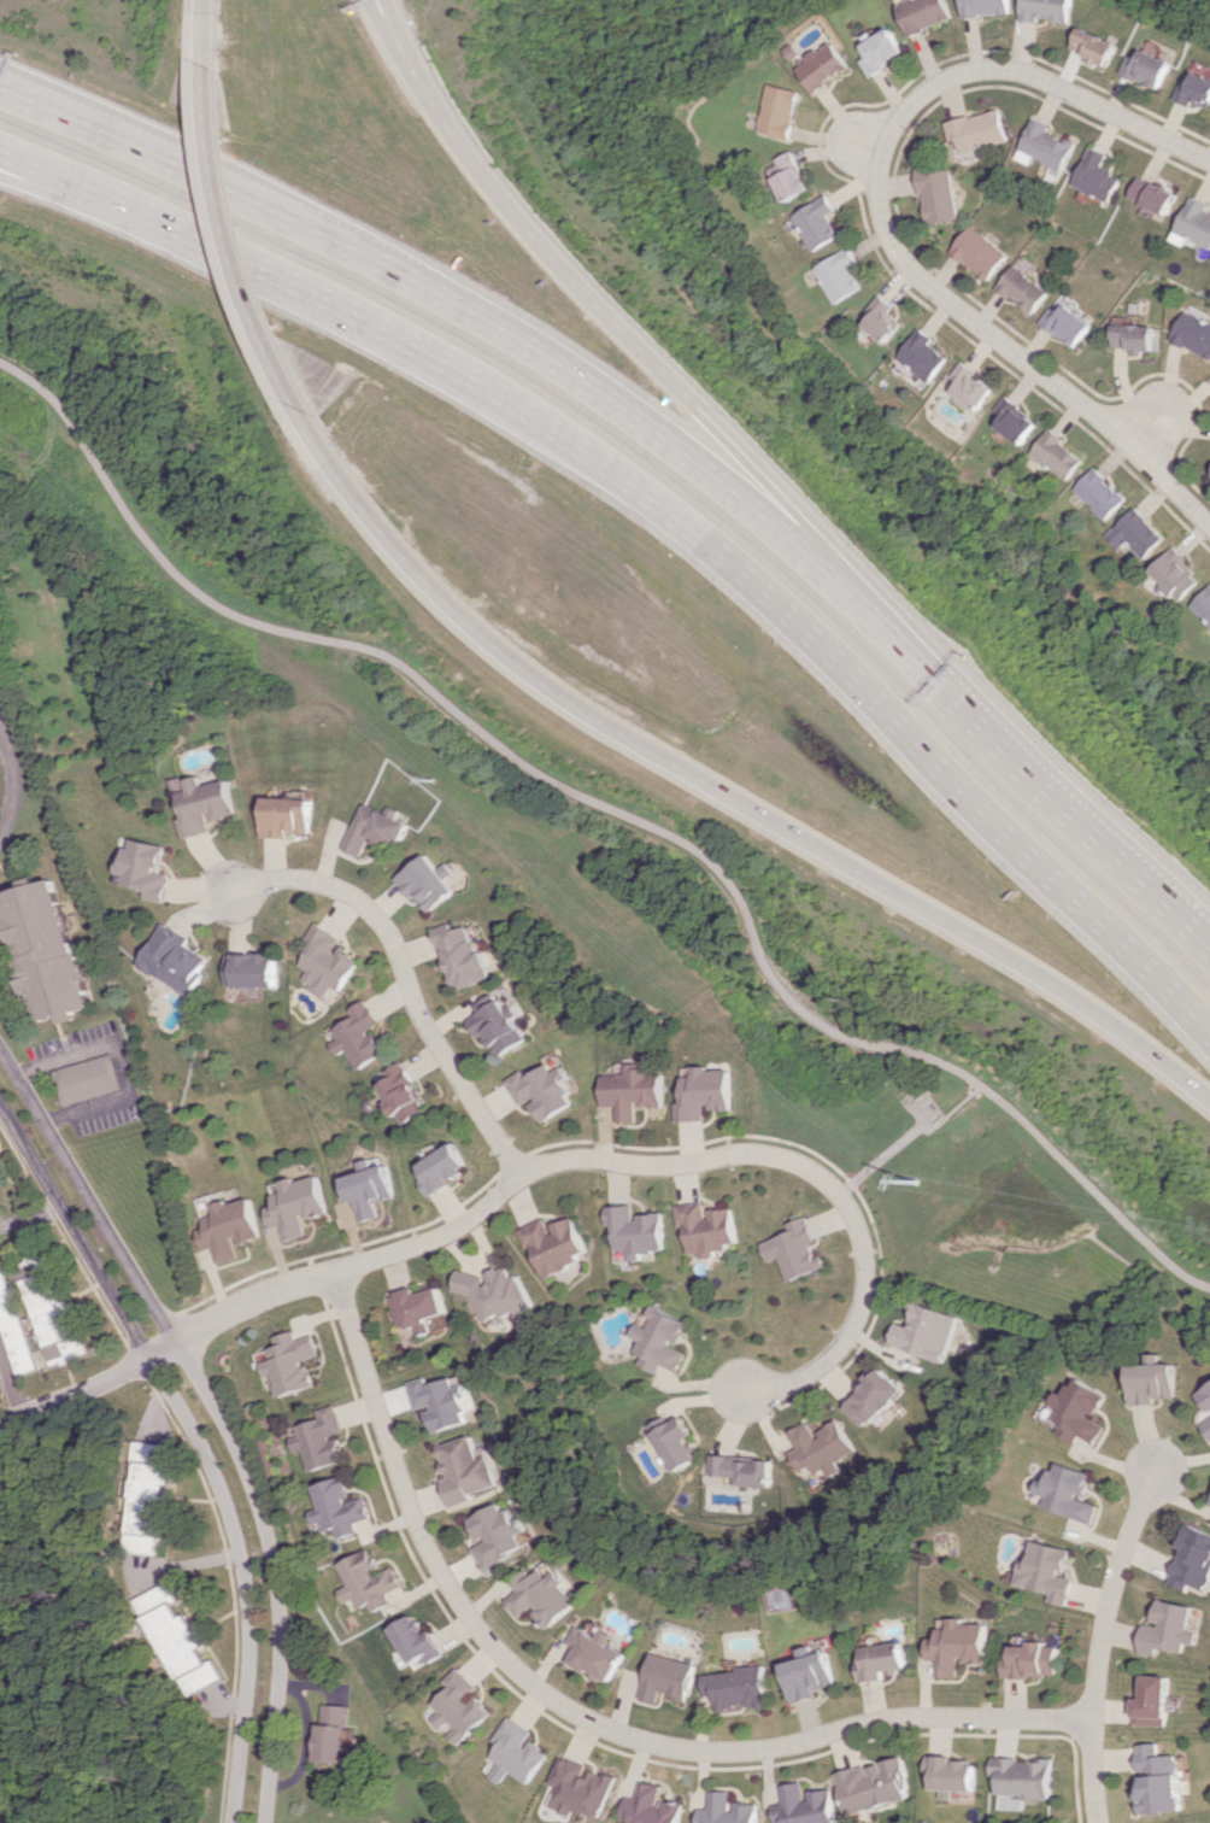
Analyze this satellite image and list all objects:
building: (987, 7)
building: (1047, 10)
building: (924, 14)
road: (394, 19)
road: (224, 31)
building: (1094, 46)
building: (881, 51)
building: (821, 66)
building: (1147, 69)
building: (1194, 89)
building: (776, 111)
building: (981, 130)
road: (865, 145)
building: (1050, 146)
road: (148, 147)
road: (47, 166)
road: (47, 175)
building: (1098, 176)
building: (786, 177)
building: (940, 194)
building: (1152, 195)
road: (880, 216)
building: (815, 223)
building: (1194, 224)
road: (242, 239)
building: (981, 253)
building: (836, 275)
building: (1024, 289)
road: (336, 301)
building: (879, 320)
building: (1069, 324)
building: (1193, 334)
building: (1134, 336)
building: (921, 356)
building: (970, 387)
road: (681, 395)
building: (1014, 421)
road: (1149, 430)
road: (663, 441)
building: (1056, 455)
building: (1098, 493)
building: (1135, 533)
building: (1175, 574)
building: (1203, 604)
road: (900, 720)
road: (13, 786)
road: (718, 789)
building: (205, 805)
road: (616, 814)
building: (287, 816)
building: (375, 830)
road: (1099, 834)
building: (145, 869)
building: (425, 883)
building: (46, 950)
building: (175, 960)
building: (463, 960)
building: (325, 961)
building: (251, 969)
road: (403, 977)
building: (497, 1025)
building: (356, 1036)
road: (122, 1062)
building: (88, 1079)
building: (542, 1090)
building: (633, 1091)
building: (399, 1092)
building: (704, 1094)
road: (907, 1131)
road: (617, 1163)
building: (441, 1170)
building: (369, 1188)
building: (295, 1206)
building: (0, 1209)
road: (30, 1215)
building: (229, 1229)
building: (709, 1229)
building: (638, 1230)
building: (556, 1243)
building: (795, 1250)
building: (498, 1292)
building: (419, 1308)
building: (58, 1321)
building: (16, 1327)
building: (928, 1332)
building: (662, 1341)
building: (289, 1362)
building: (1153, 1381)
road: (13, 1382)
building: (0, 1389)
road: (76, 1395)
building: (1206, 1396)
building: (873, 1397)
building: (444, 1402)
road: (216, 1411)
building: (1079, 1412)
building: (1049, 1417)
building: (1208, 1425)
building: (319, 1438)
road: (199, 1441)
building: (675, 1441)
building: (820, 1447)
building: (742, 1470)
building: (465, 1471)
building: (1064, 1493)
building: (152, 1496)
building: (336, 1508)
building: (497, 1535)
building: (1192, 1560)
building: (1044, 1571)
building: (366, 1582)
building: (541, 1595)
building: (1165, 1629)
road: (1097, 1640)
building: (182, 1641)
building: (415, 1641)
building: (955, 1646)
building: (594, 1652)
building: (1028, 1660)
building: (880, 1661)
building: (807, 1673)
building: (668, 1678)
building: (738, 1688)
building: (1150, 1702)
building: (458, 1706)
road: (577, 1717)
building: (334, 1734)
building: (515, 1753)
building: (952, 1774)
building: (1158, 1780)
building: (1022, 1781)
building: (876, 1786)
building: (582, 1788)
building: (809, 1805)
building: (656, 1806)
building: (732, 1810)

